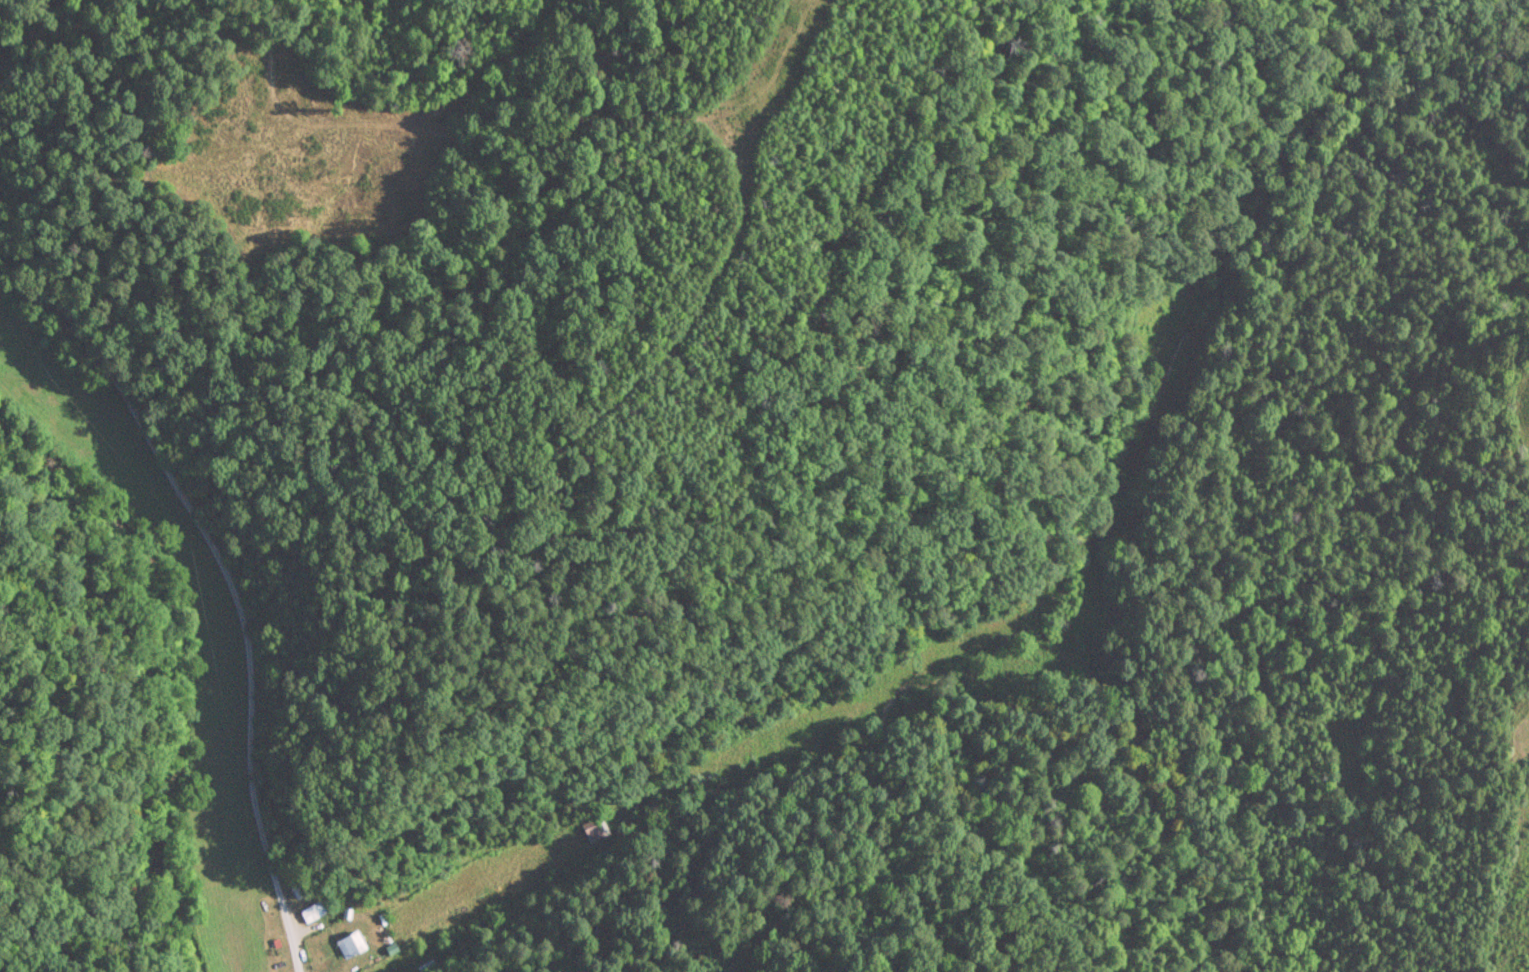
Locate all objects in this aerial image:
road: (205, 565)
building: (596, 832)
building: (314, 912)
building: (351, 944)

